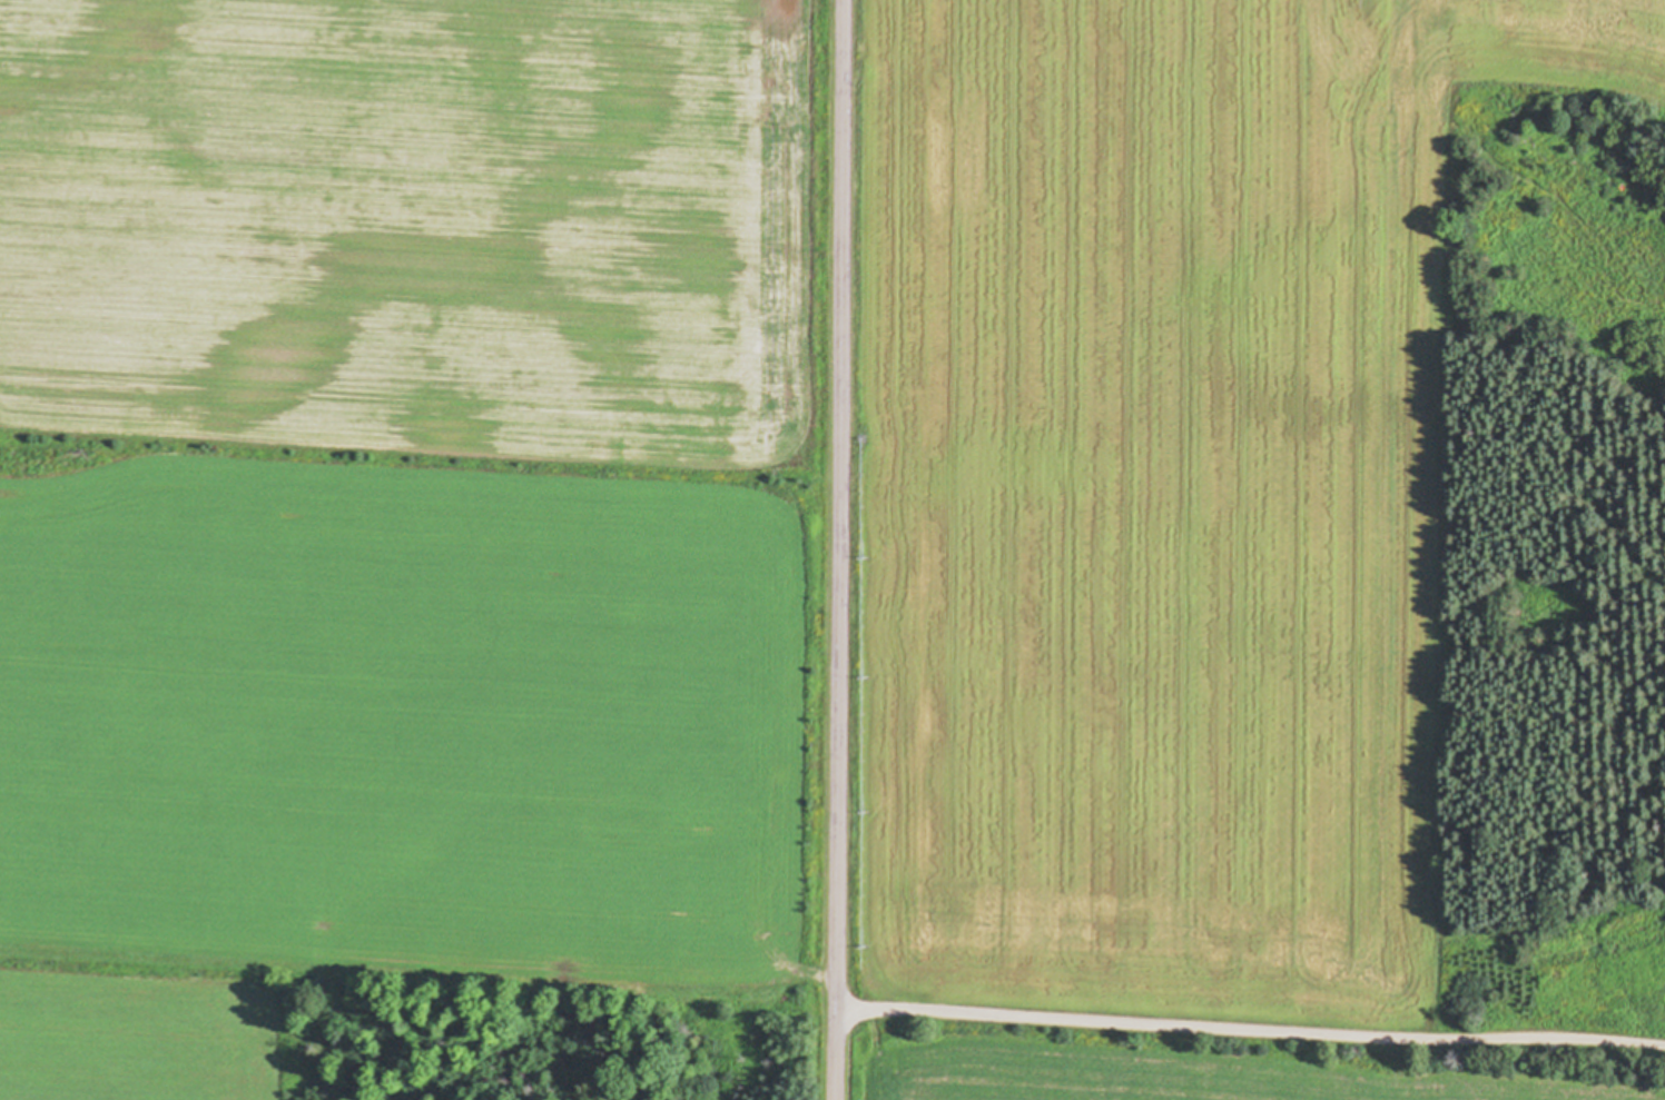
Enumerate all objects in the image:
road: (837, 549)
road: (1250, 1031)

